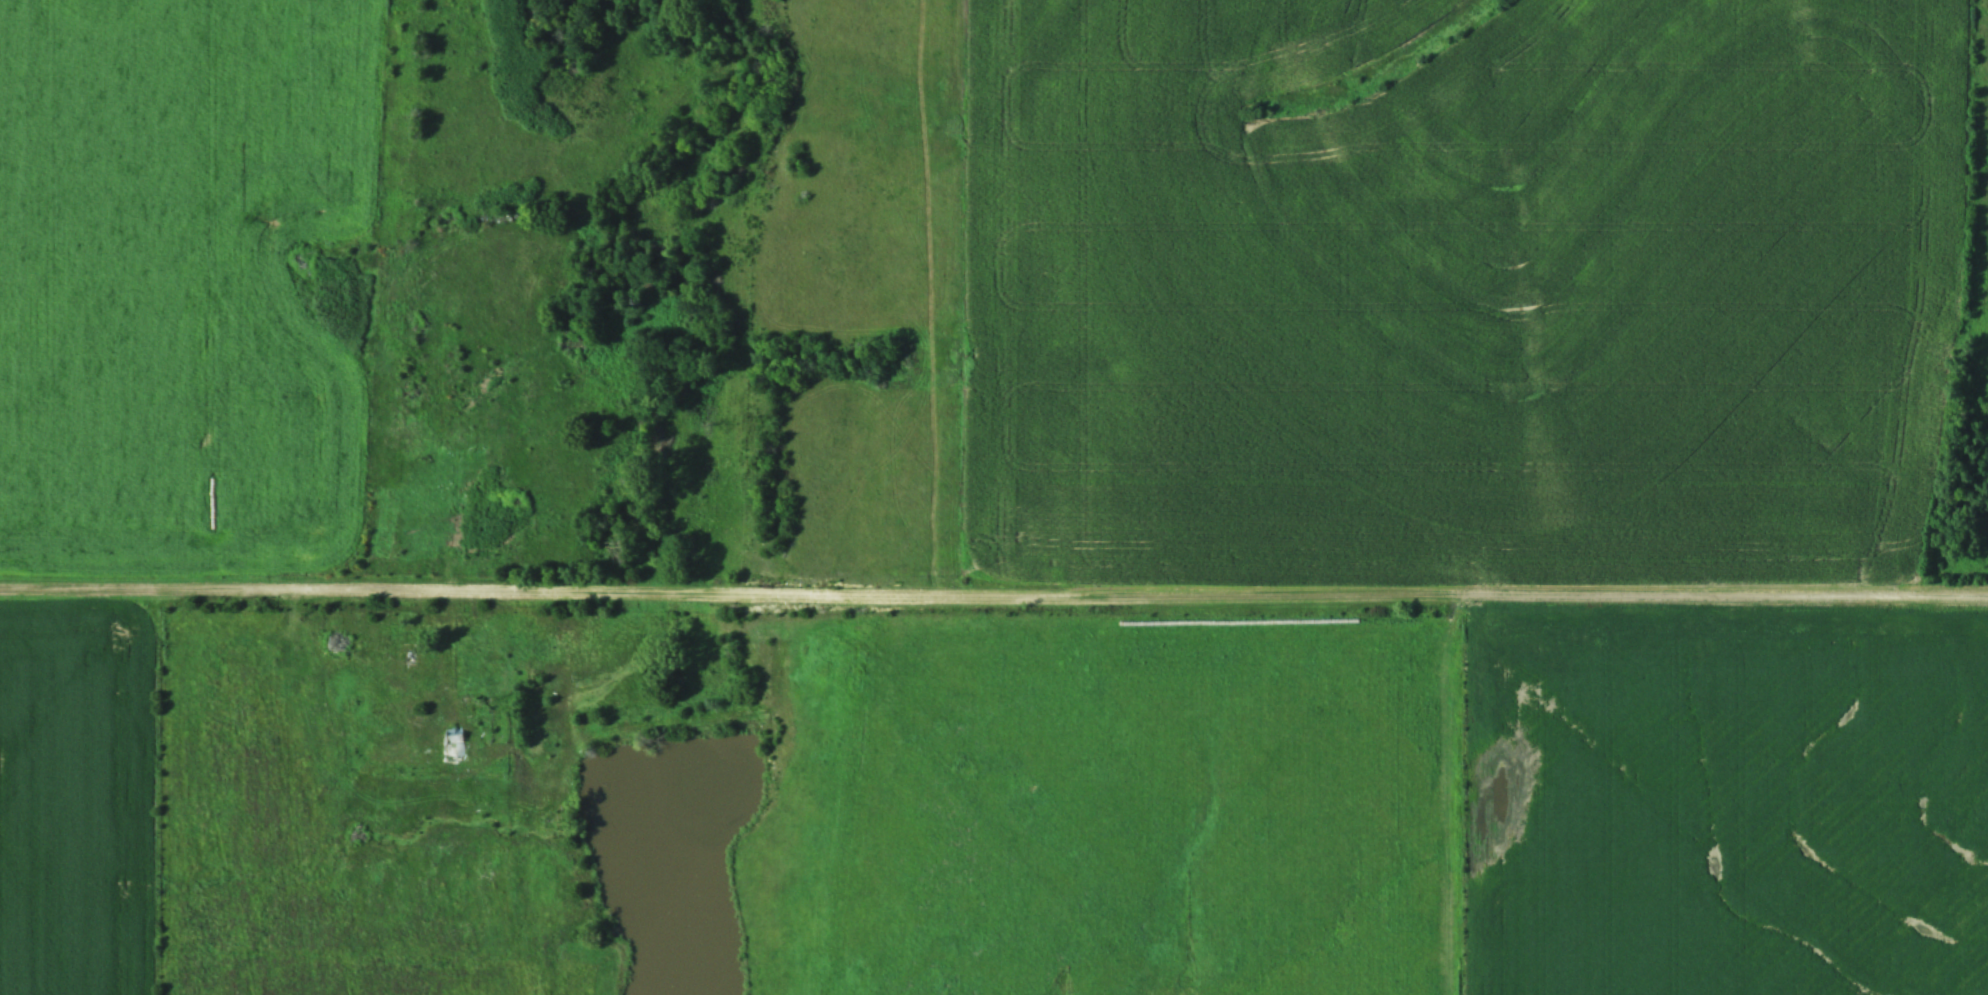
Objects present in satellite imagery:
road: (993, 593)
building: (448, 747)

